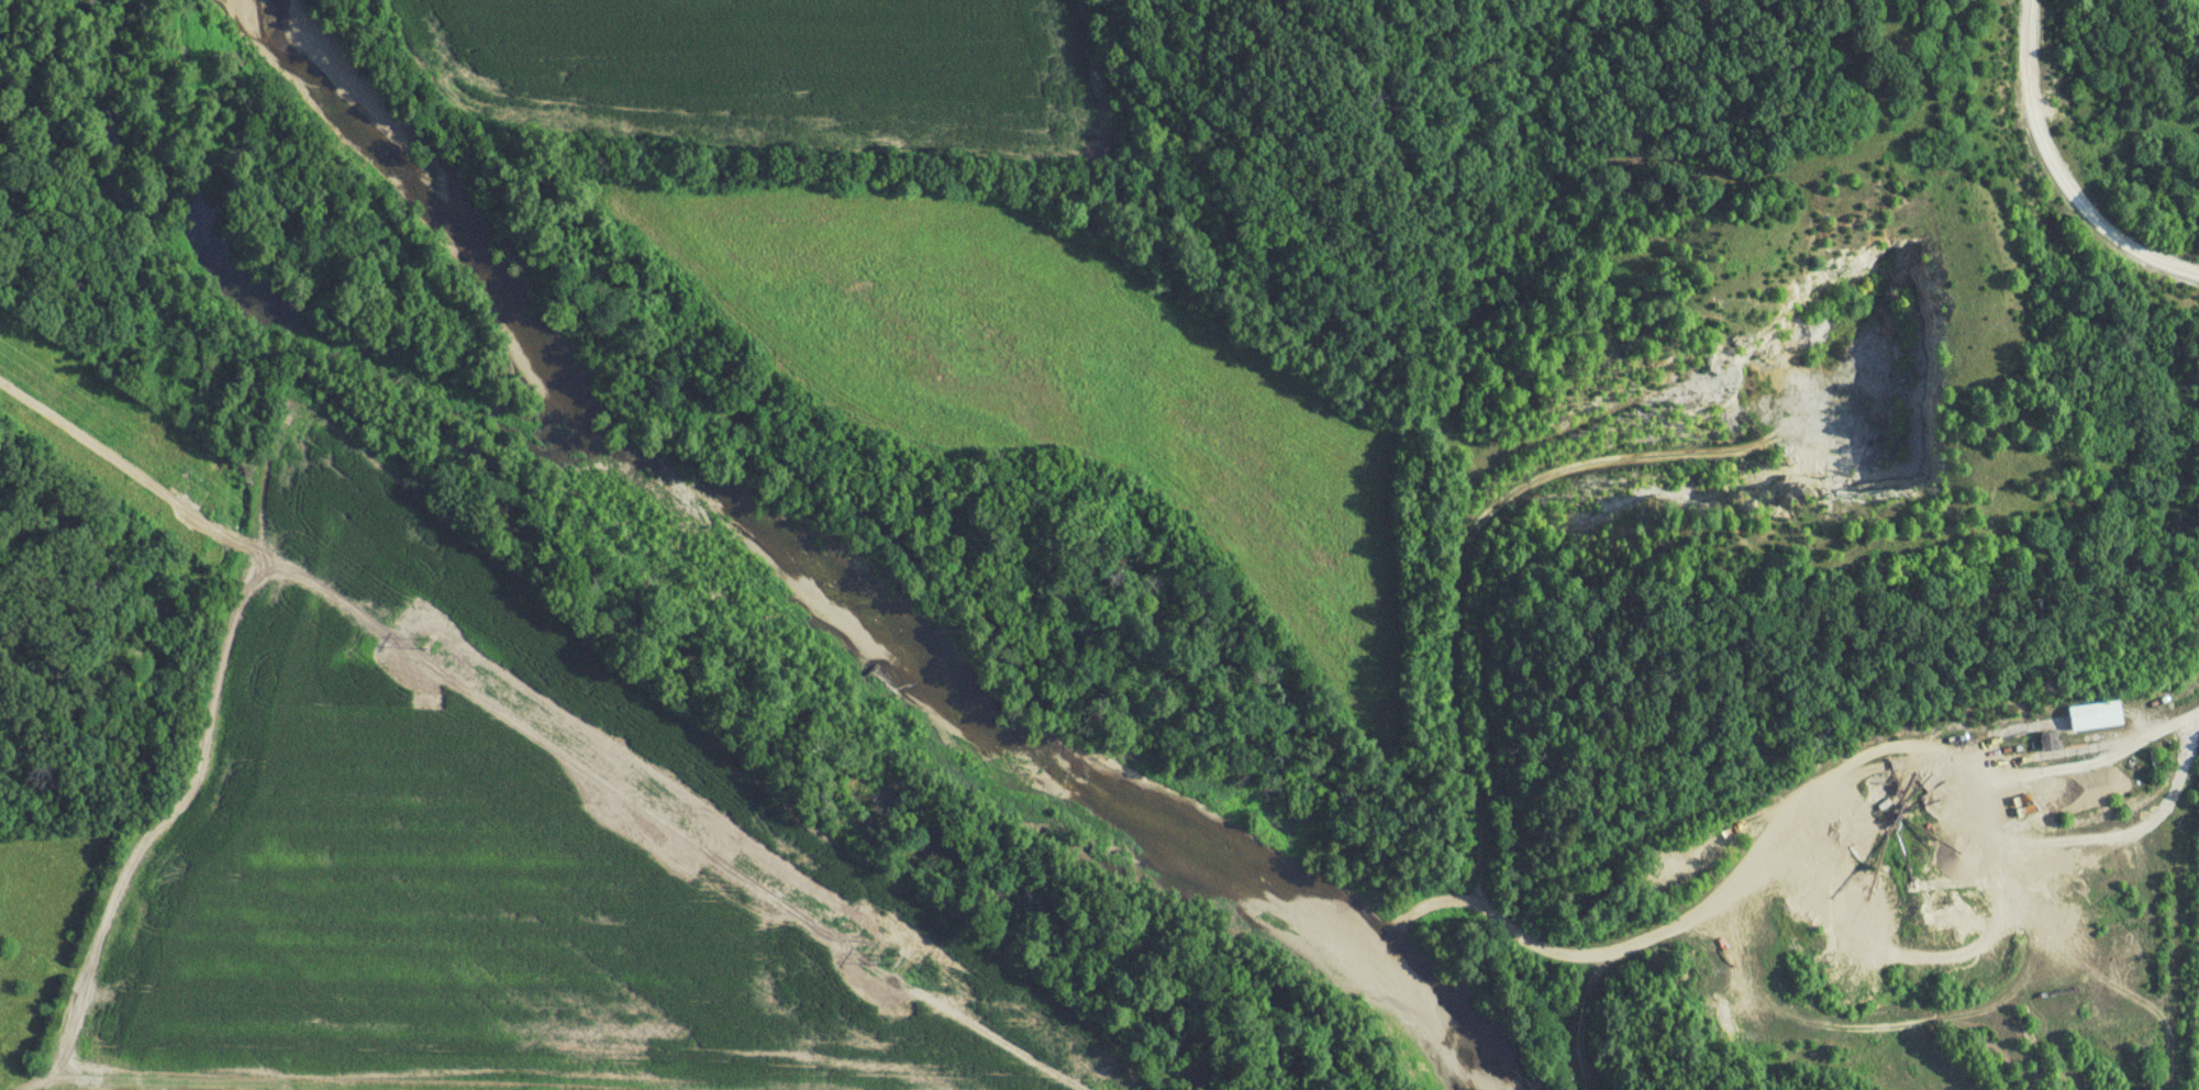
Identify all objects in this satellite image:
road: (2074, 160)
power tower: (449, 659)
building: (2096, 716)
building: (2050, 742)
road: (2174, 912)
power tower: (833, 919)

